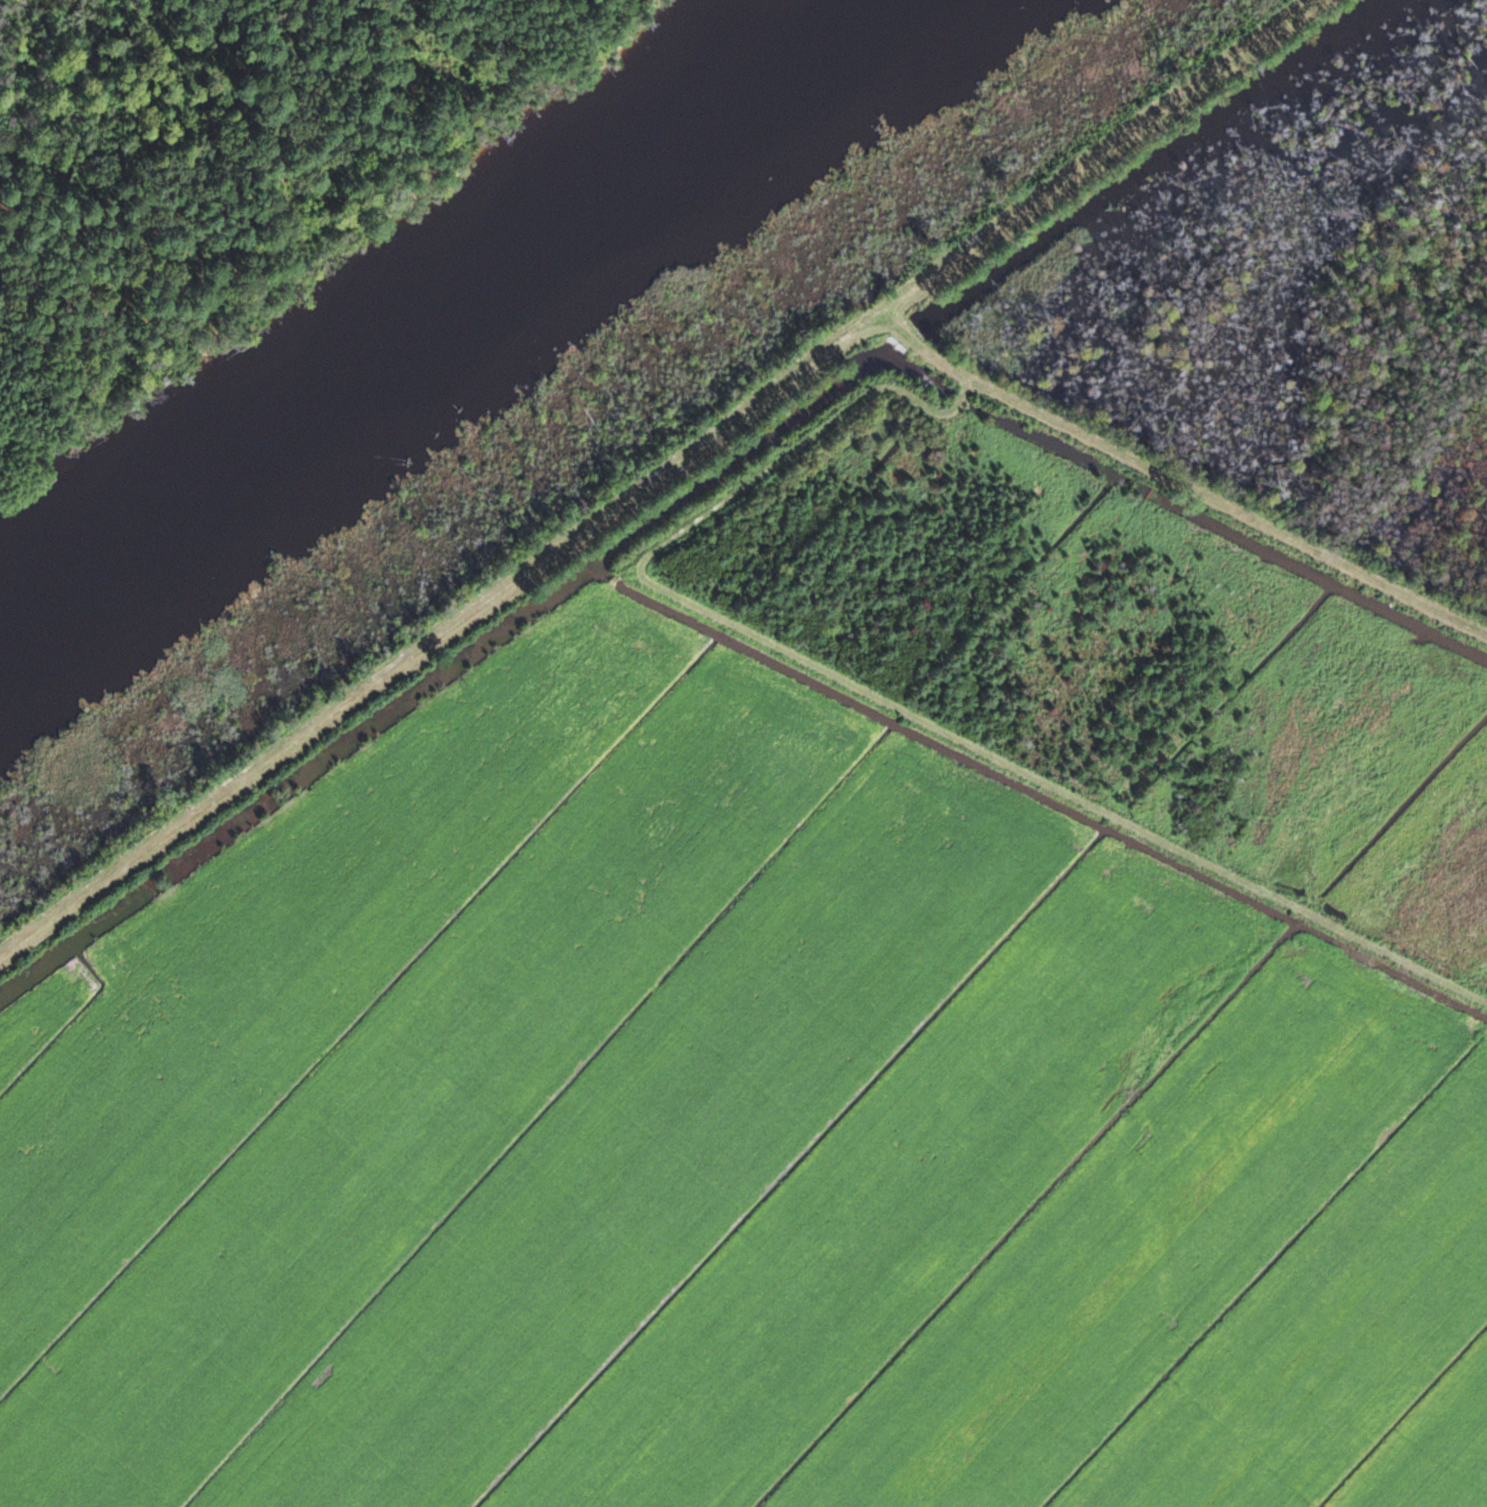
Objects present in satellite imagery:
road: (1080, 153)
road: (1176, 480)
road: (435, 627)
crop: (725, 1141)

